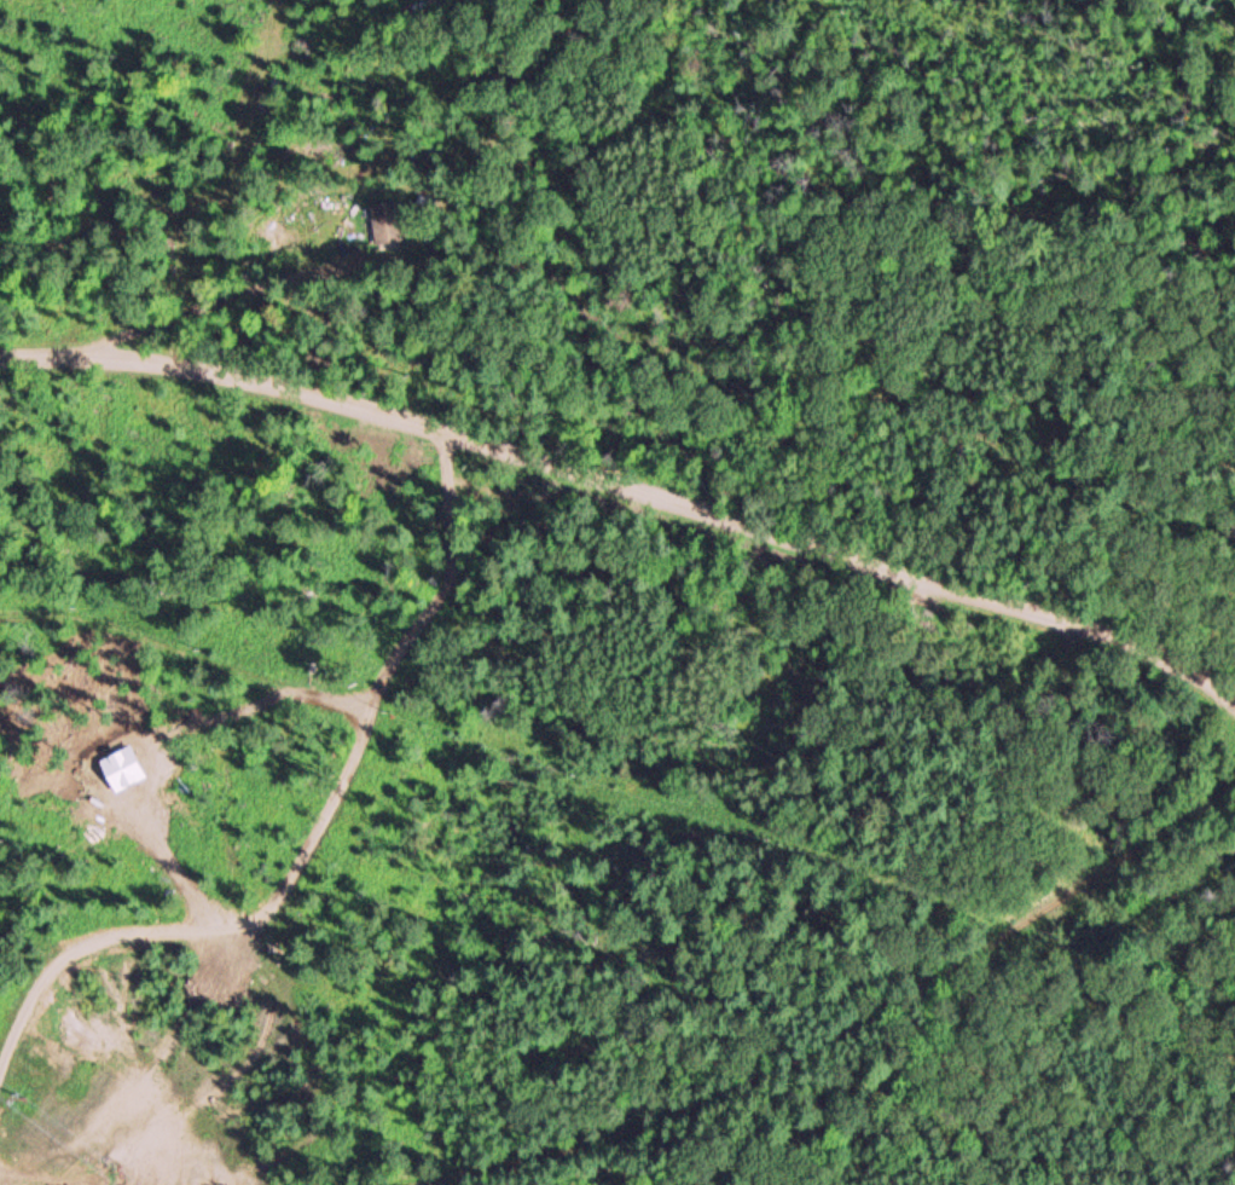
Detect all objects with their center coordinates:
building: (387, 220)
road: (630, 486)
power tower: (19, 1083)

